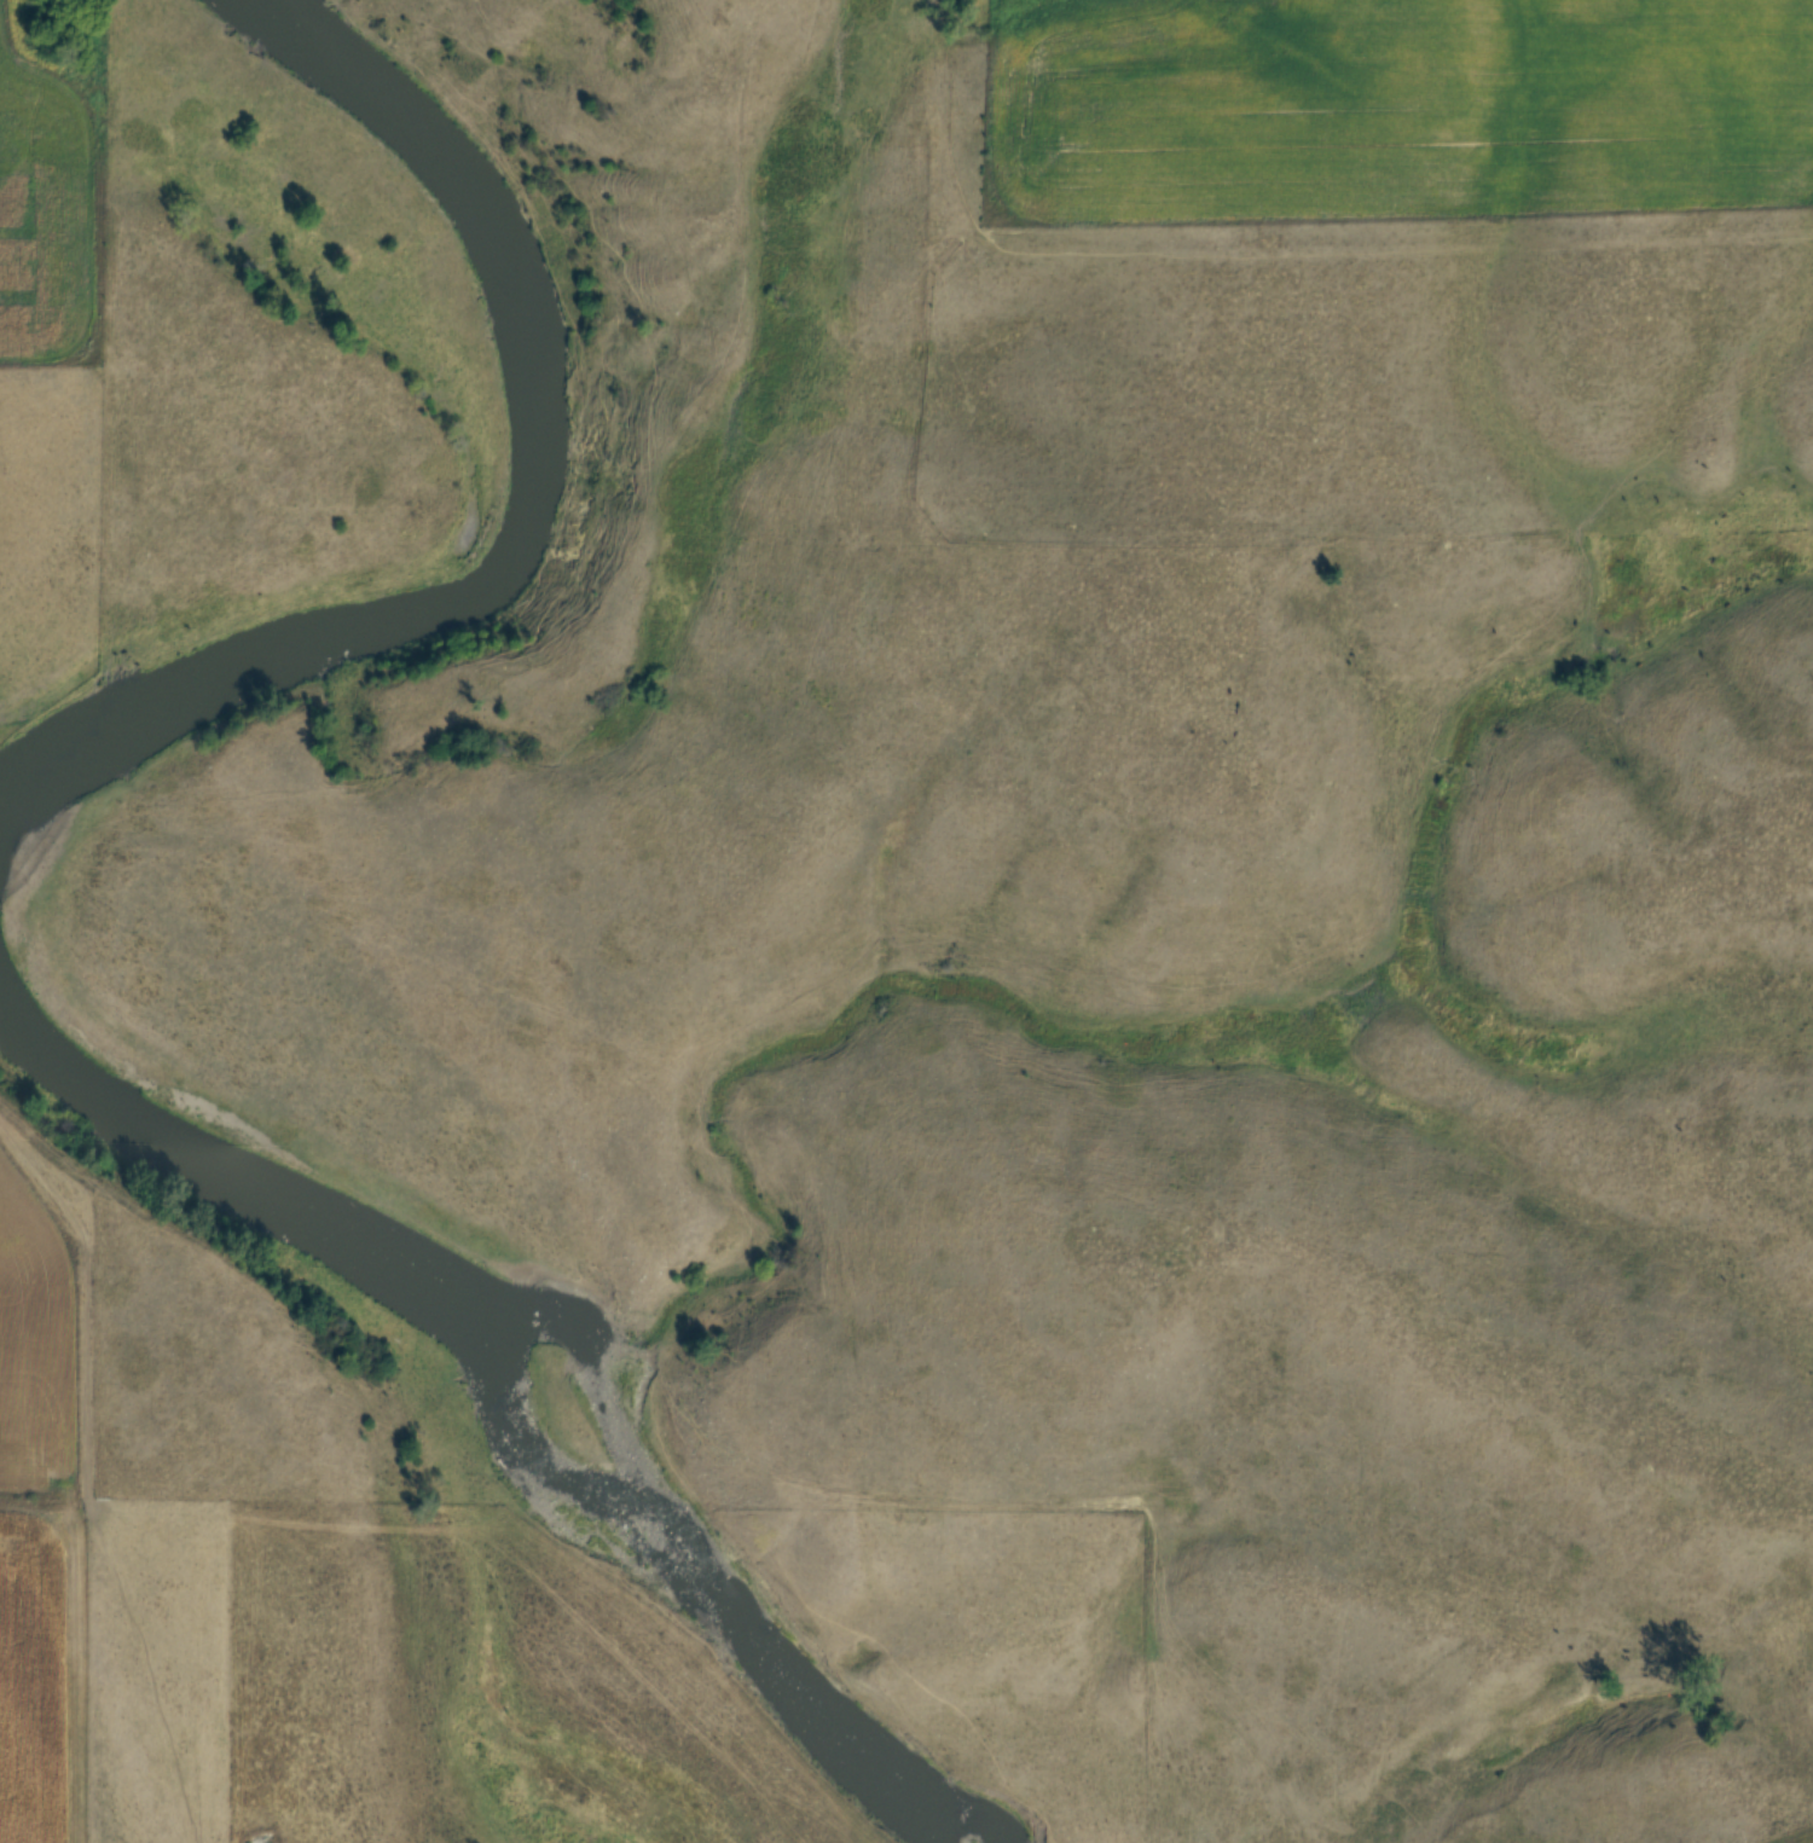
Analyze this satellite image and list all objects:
river: (521, 499)
river: (500, 1357)

